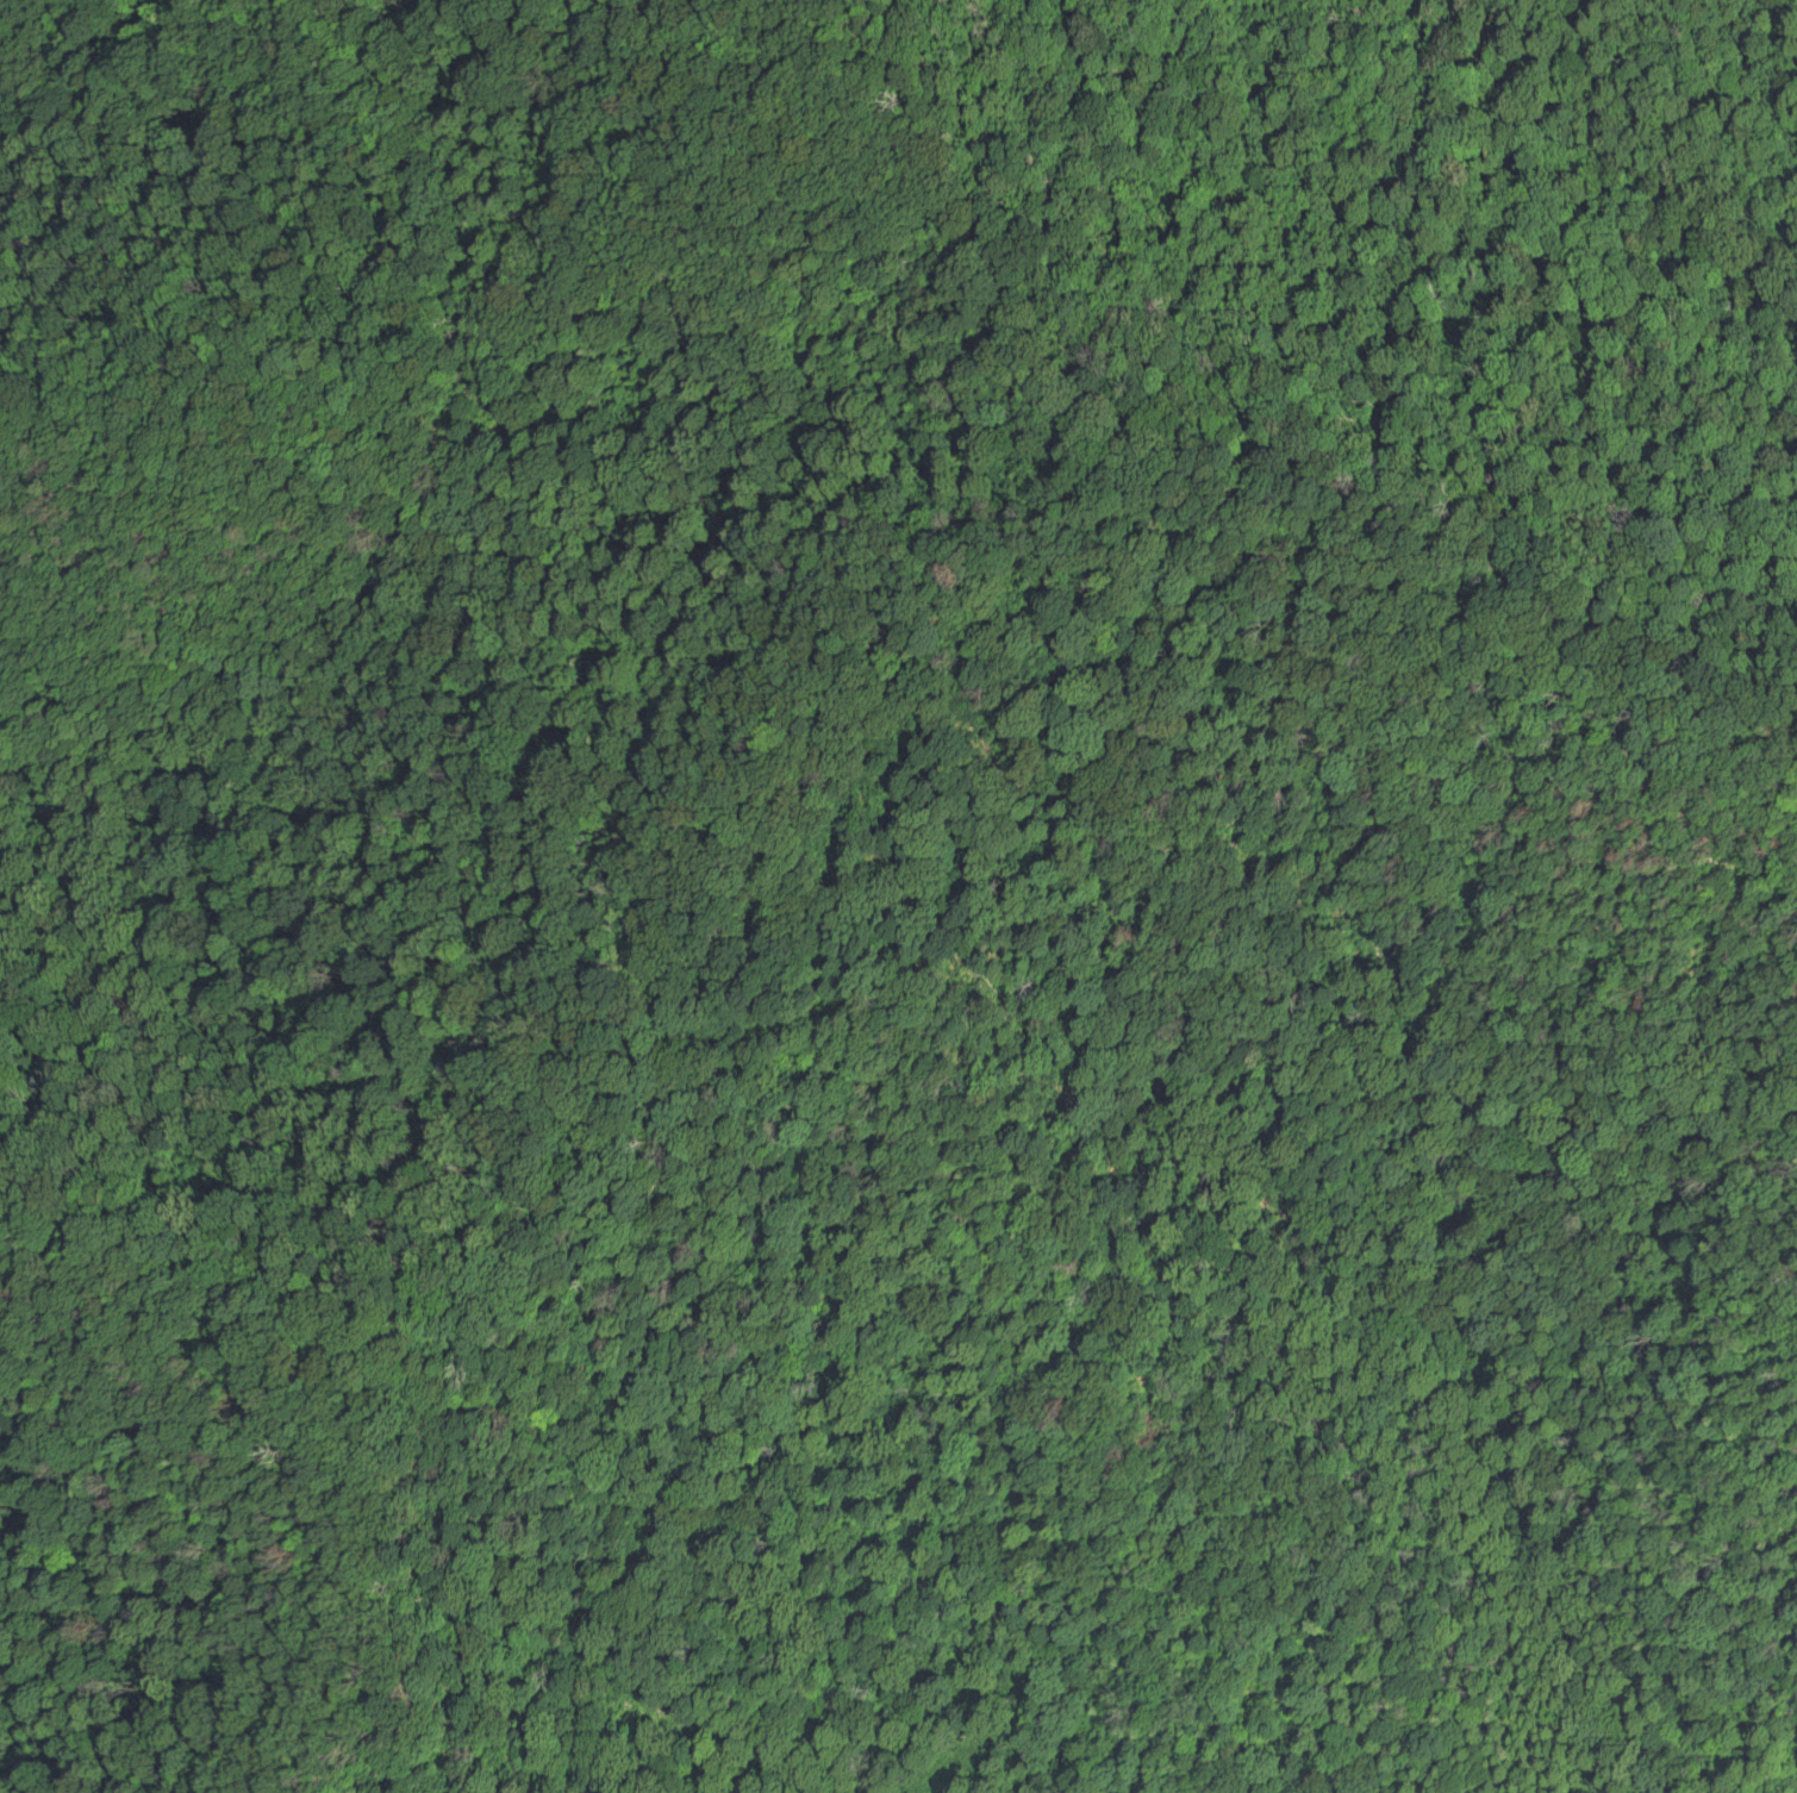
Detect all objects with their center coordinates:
road: (1661, 1642)

